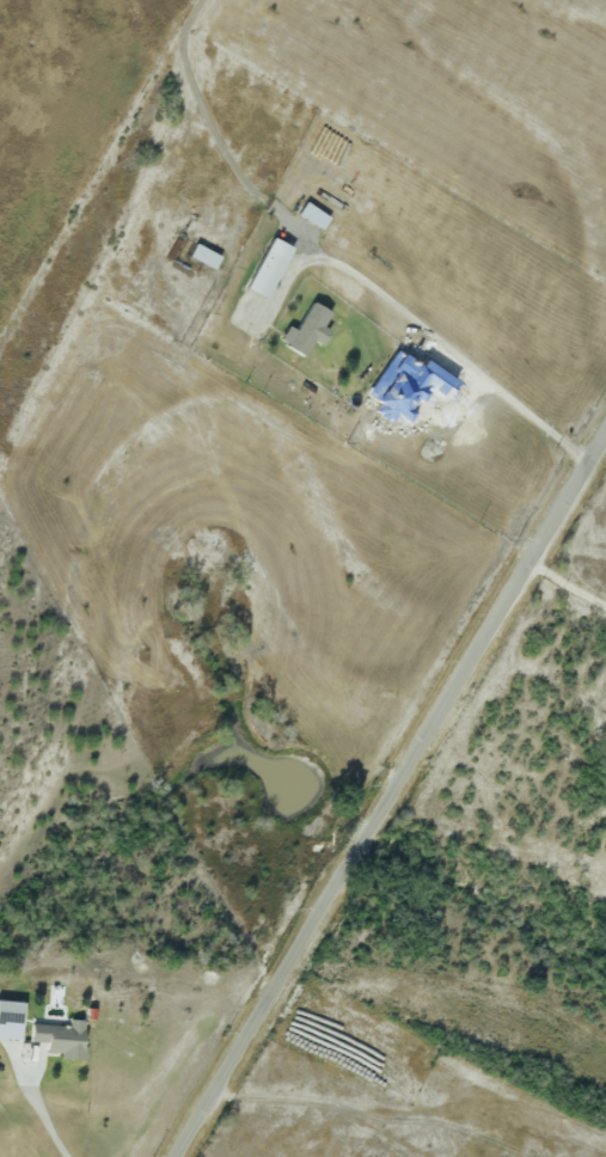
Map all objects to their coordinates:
building: (269, 268)
building: (307, 330)
road: (453, 350)
road: (568, 583)
road: (390, 800)
building: (11, 1020)
building: (62, 1039)
road: (37, 1102)

